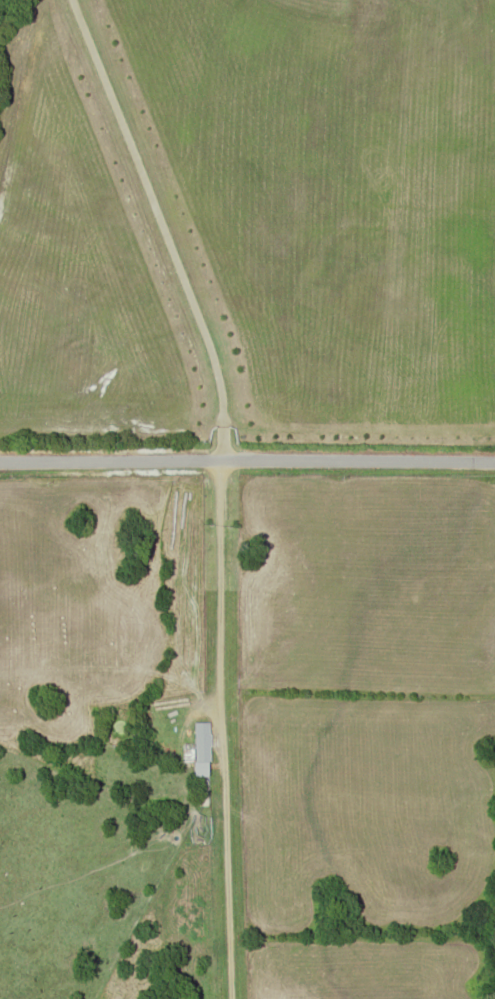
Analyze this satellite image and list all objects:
road: (247, 456)
building: (201, 741)

